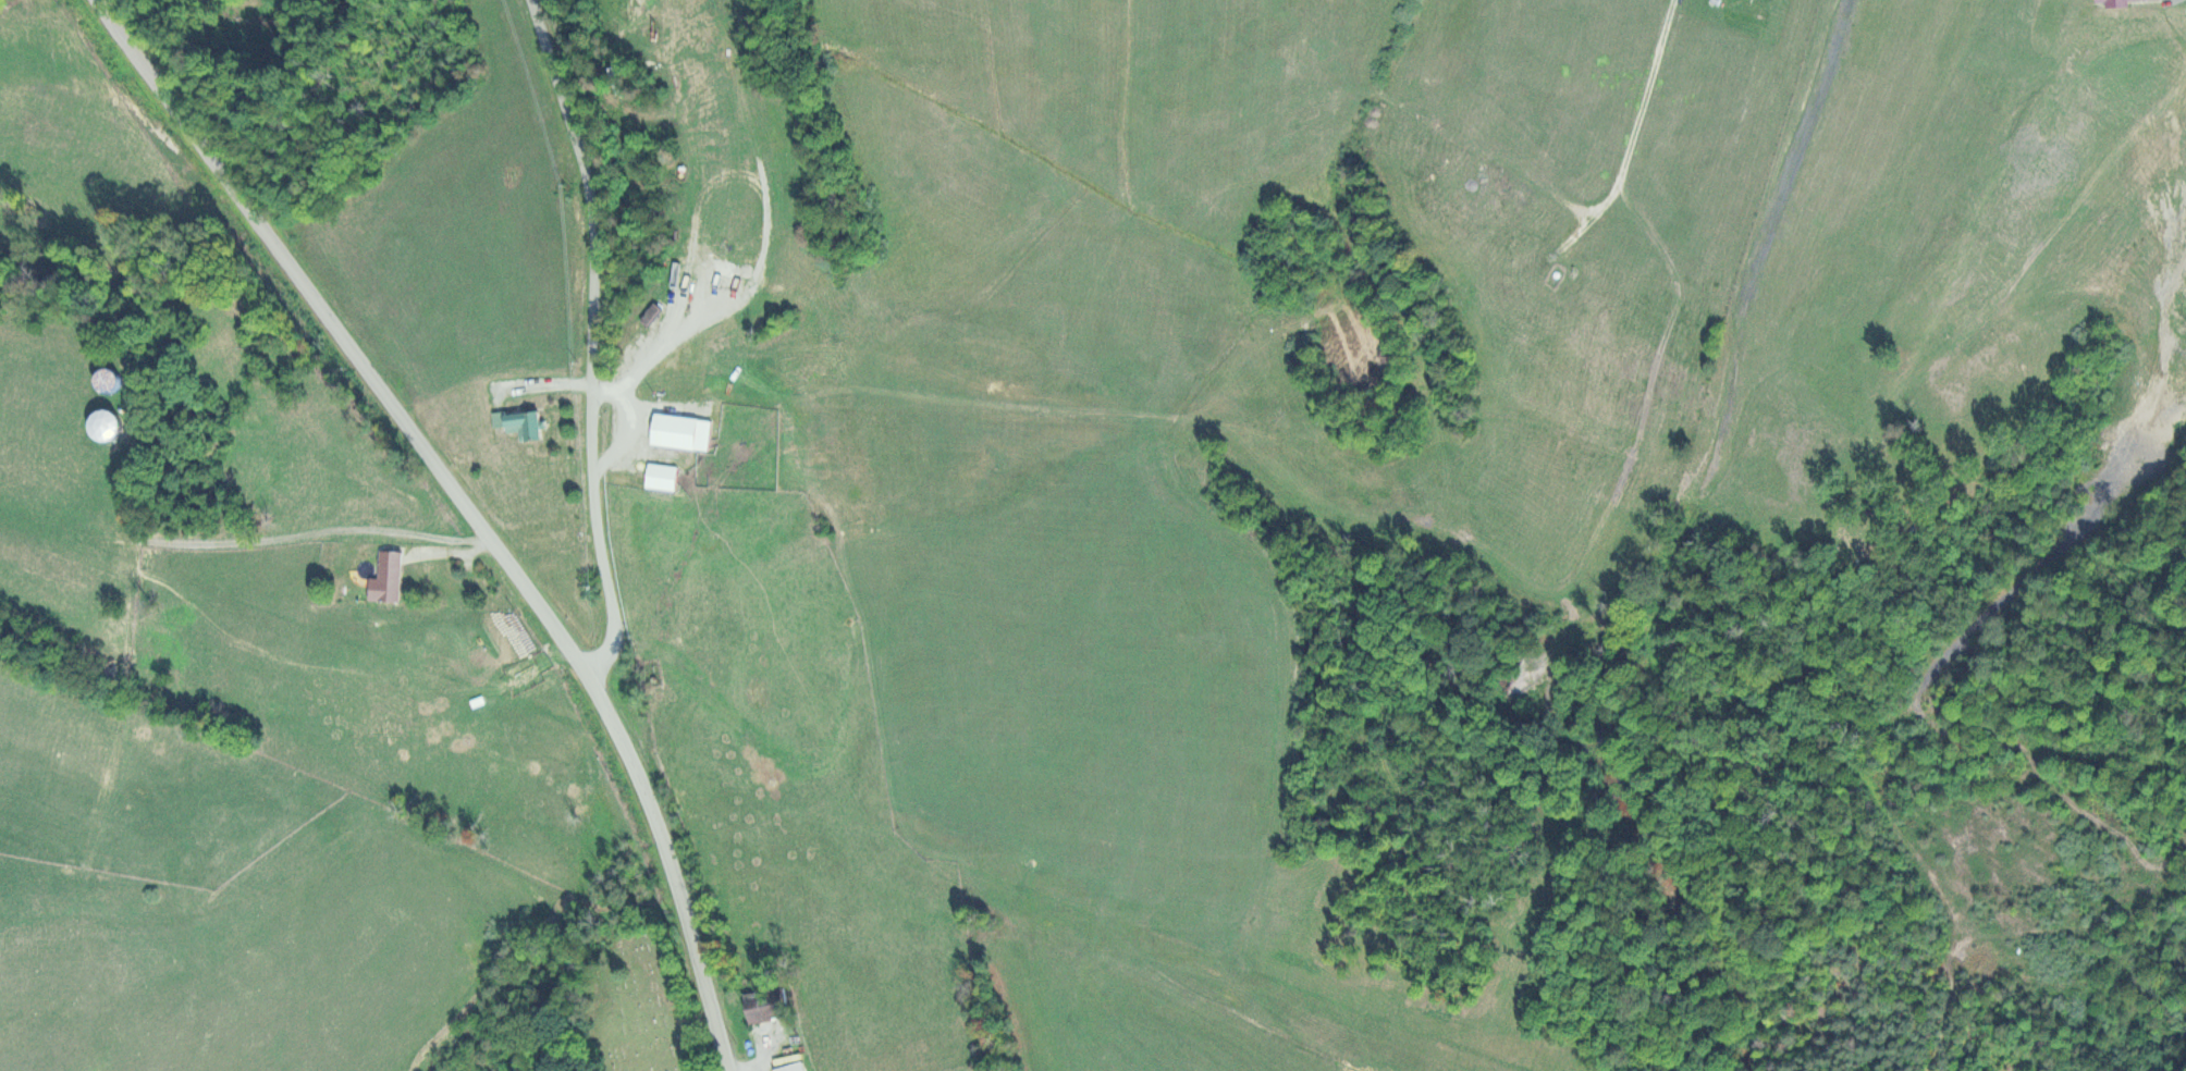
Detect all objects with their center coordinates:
building: (2111, 1)
road: (342, 336)
building: (106, 380)
building: (524, 422)
building: (103, 423)
building: (673, 430)
building: (661, 476)
road: (601, 547)
building: (334, 556)
building: (385, 577)
building: (763, 1004)
building: (791, 1067)

